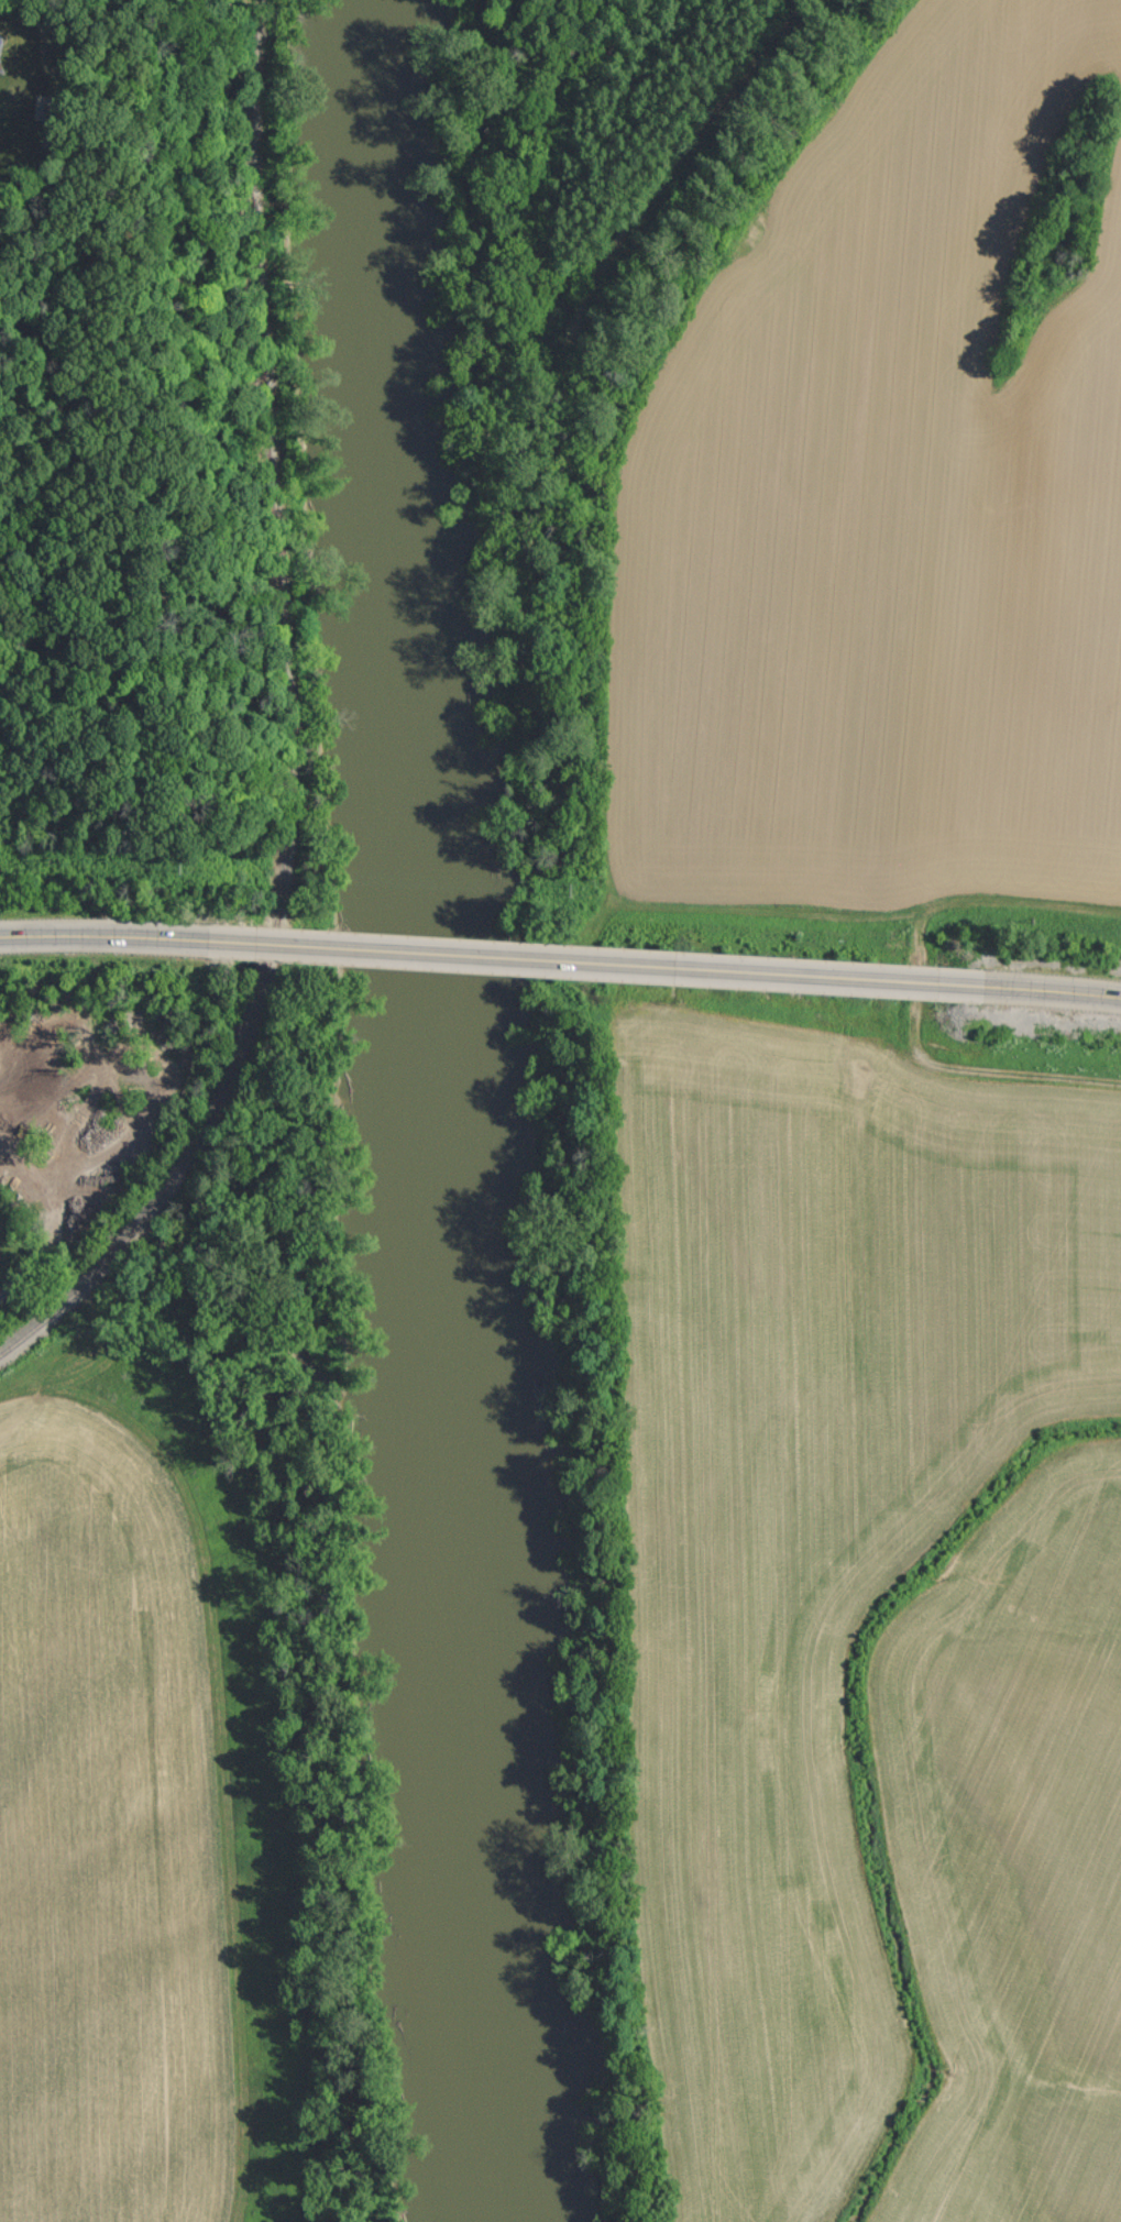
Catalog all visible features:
railway: (289, 726)
road: (109, 935)
road: (586, 964)
road: (1037, 992)
river: (430, 1110)

